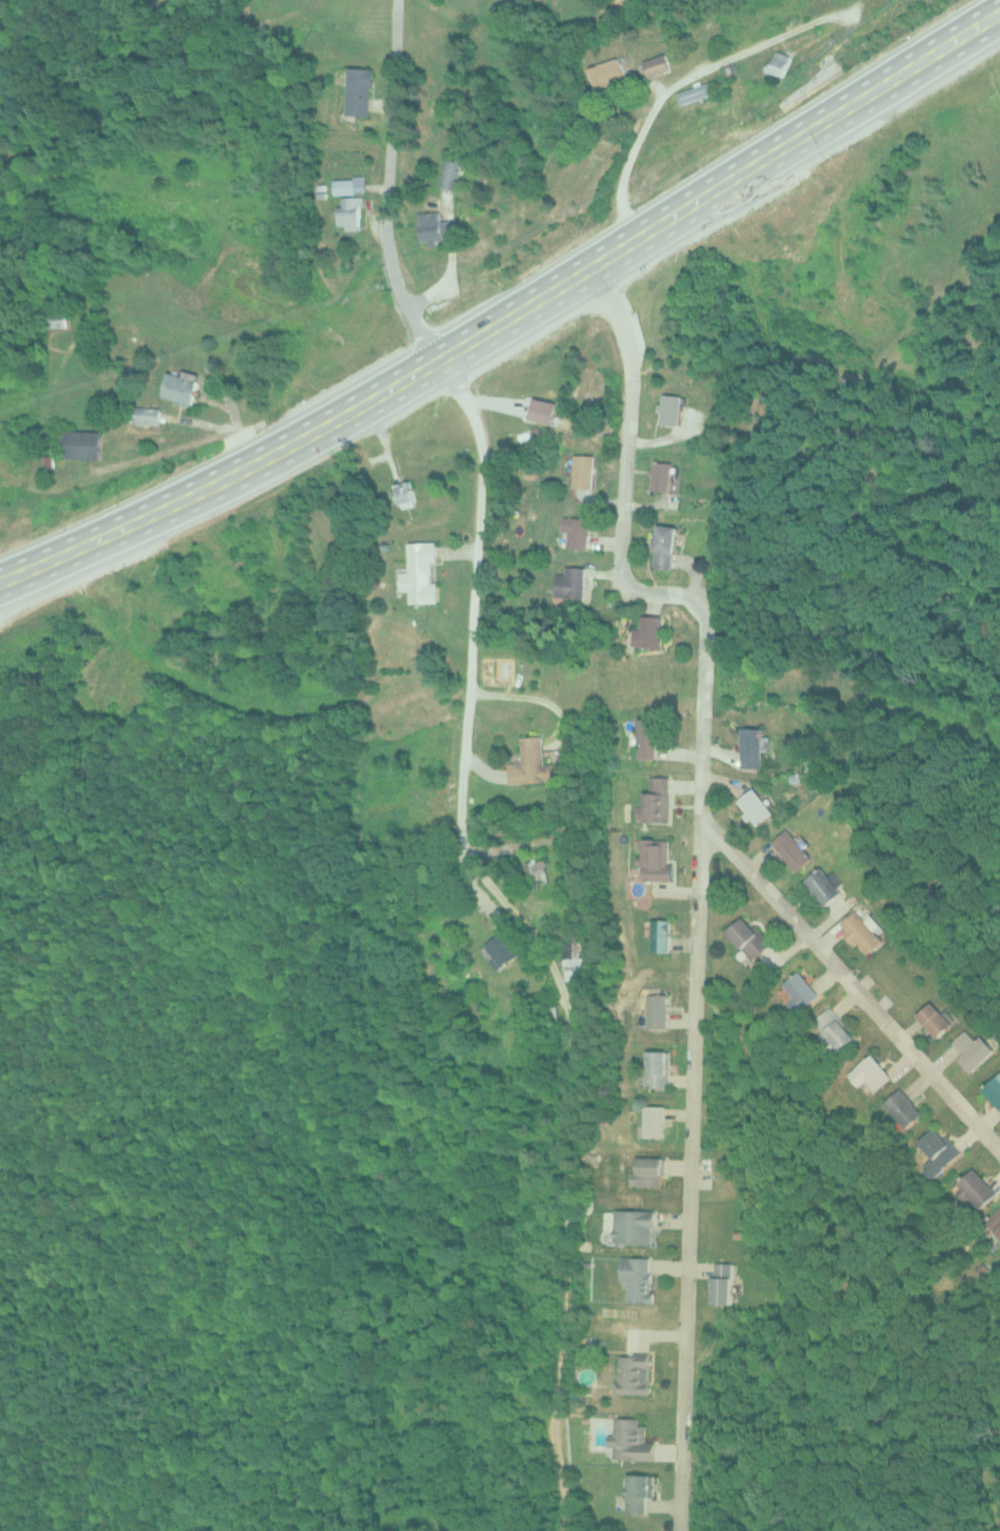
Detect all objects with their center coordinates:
building: (779, 62)
building: (656, 64)
building: (607, 72)
road: (676, 82)
building: (358, 91)
building: (694, 92)
building: (449, 173)
road: (389, 181)
building: (344, 186)
building: (349, 212)
building: (432, 226)
road: (511, 303)
building: (55, 319)
building: (180, 387)
building: (670, 408)
building: (79, 444)
building: (582, 470)
building: (660, 475)
building: (404, 493)
building: (577, 533)
building: (664, 546)
building: (420, 573)
building: (569, 583)
building: (647, 632)
road: (701, 712)
building: (645, 737)
building: (750, 747)
building: (531, 764)
building: (656, 800)
building: (755, 807)
building: (791, 851)
building: (654, 860)
building: (536, 873)
building: (822, 886)
road: (522, 921)
building: (860, 933)
building: (659, 936)
building: (747, 937)
building: (502, 948)
building: (799, 992)
building: (655, 1010)
building: (934, 1019)
building: (838, 1035)
building: (972, 1050)
building: (656, 1069)
building: (870, 1075)
building: (994, 1090)
building: (903, 1108)
building: (653, 1121)
building: (939, 1151)
building: (647, 1172)
road: (689, 1173)
building: (976, 1189)
building: (994, 1222)
building: (632, 1227)
building: (636, 1278)
building: (722, 1284)
building: (633, 1373)
building: (629, 1439)
building: (638, 1490)

